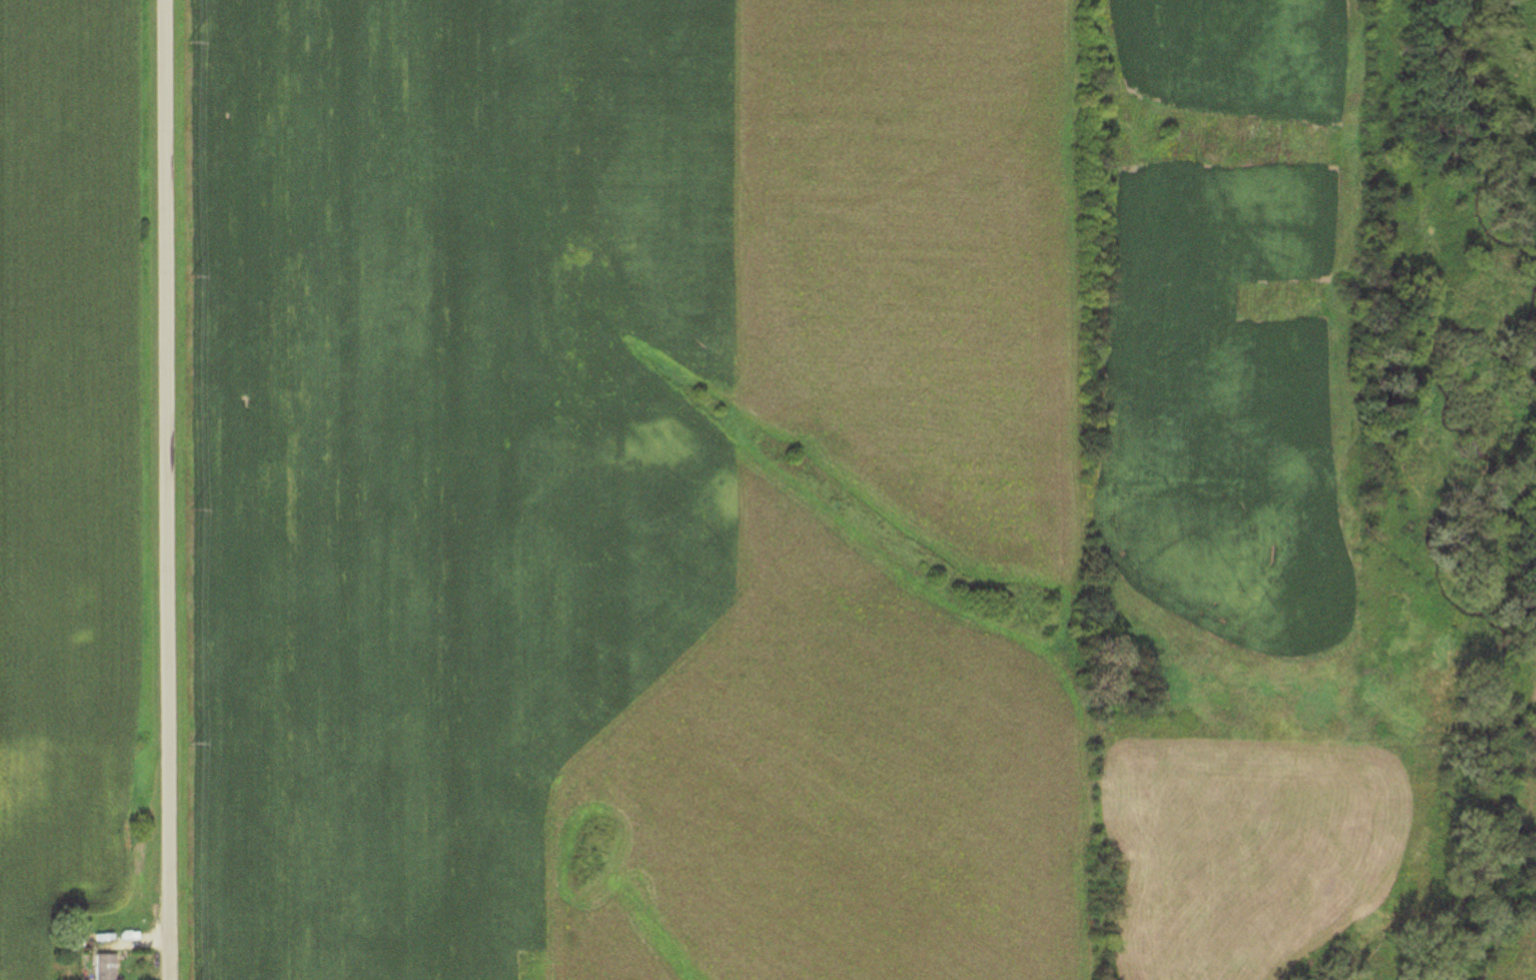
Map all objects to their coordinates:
road: (164, 490)
building: (99, 967)

